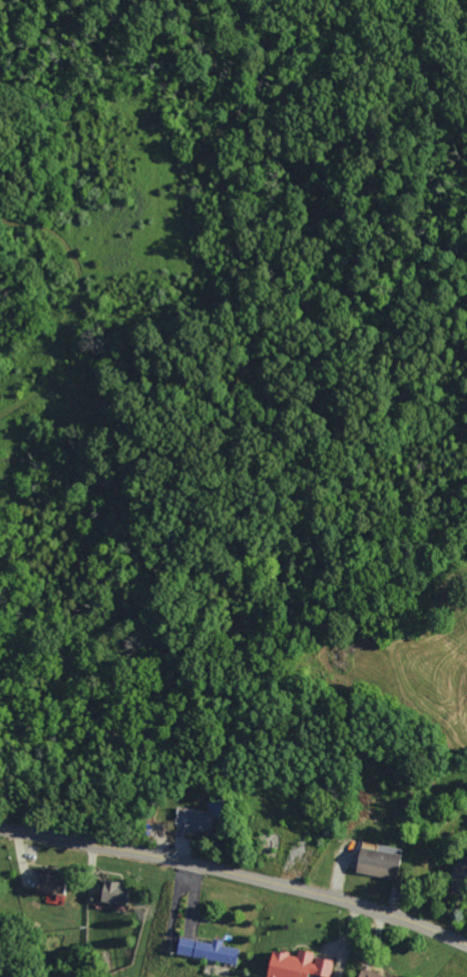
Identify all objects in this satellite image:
building: (181, 816)
building: (199, 821)
building: (376, 863)
road: (236, 876)
building: (457, 880)
building: (49, 884)
building: (111, 894)
building: (207, 951)
building: (296, 965)
building: (367, 974)

